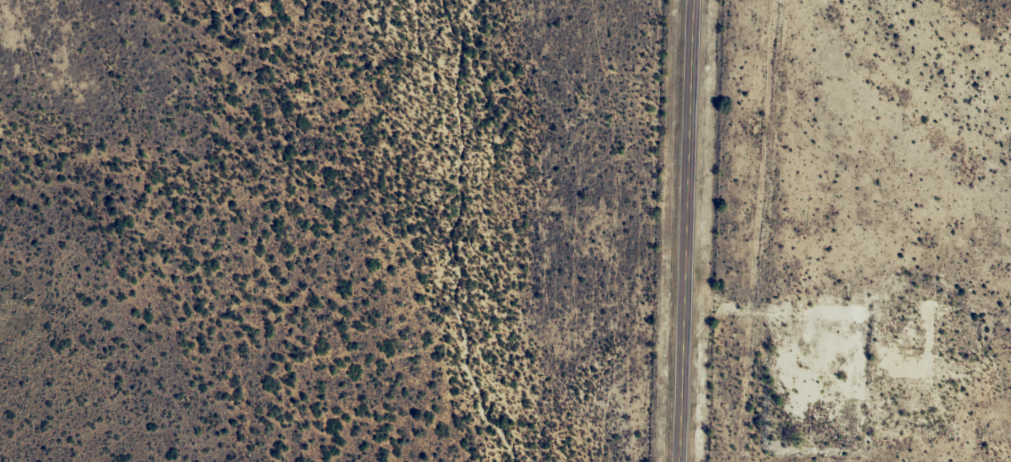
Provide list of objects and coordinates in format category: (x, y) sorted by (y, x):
road: (687, 230)

